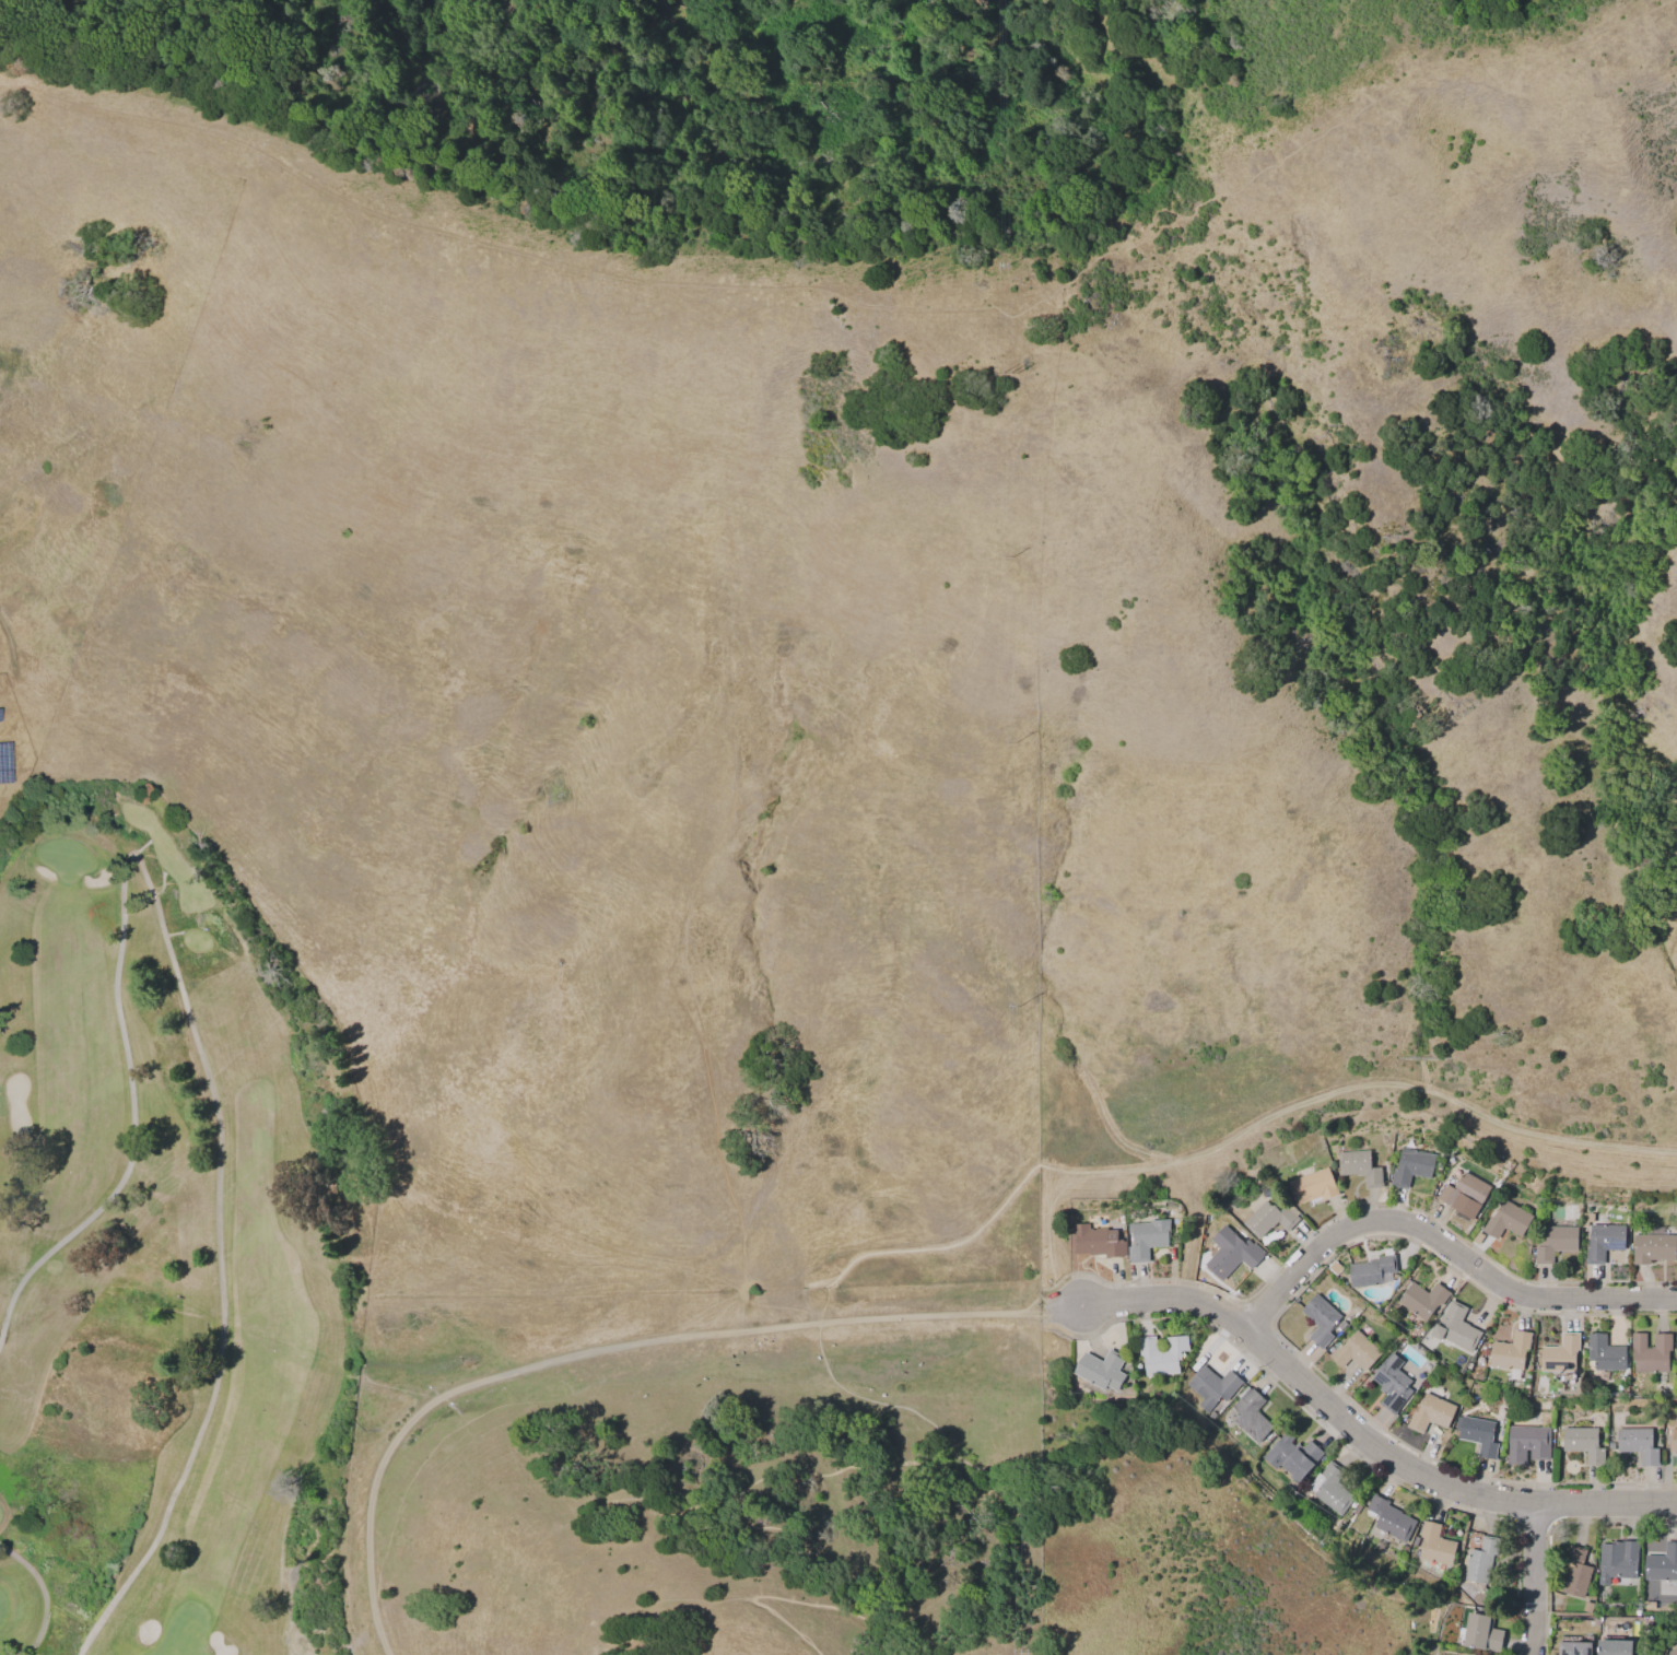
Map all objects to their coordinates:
park: (864, 598)
road: (1361, 1087)
building: (1358, 1166)
building: (1409, 1166)
building: (1312, 1185)
building: (1464, 1194)
building: (1270, 1217)
building: (1505, 1220)
building: (1145, 1237)
road: (1045, 1240)
building: (1095, 1241)
building: (1603, 1241)
road: (1445, 1242)
building: (1553, 1243)
building: (1653, 1245)
road: (934, 1247)
park: (171, 1249)
building: (1232, 1251)
building: (1334, 1267)
building: (1371, 1270)
building: (1421, 1299)
building: (1320, 1319)
building: (1454, 1327)
road: (612, 1349)
building: (1353, 1351)
building: (1510, 1351)
building: (1649, 1352)
building: (1560, 1353)
building: (1604, 1353)
building: (1165, 1354)
building: (1105, 1370)
building: (1391, 1383)
building: (1215, 1388)
building: (1430, 1412)
building: (1253, 1416)
road: (1360, 1433)
building: (1477, 1434)
building: (1672, 1439)
building: (1526, 1443)
building: (1582, 1443)
building: (1637, 1443)
building: (1295, 1455)
building: (1334, 1490)
road: (729, 1495)
building: (1393, 1518)
building: (1438, 1545)
building: (1621, 1557)
building: (1481, 1561)
building: (1663, 1564)
building: (1579, 1574)
road: (1529, 1580)
building: (1586, 1606)
building: (1486, 1632)
building: (1579, 1647)
building: (1619, 1647)
building: (1672, 1653)
building: (1468, 1654)

